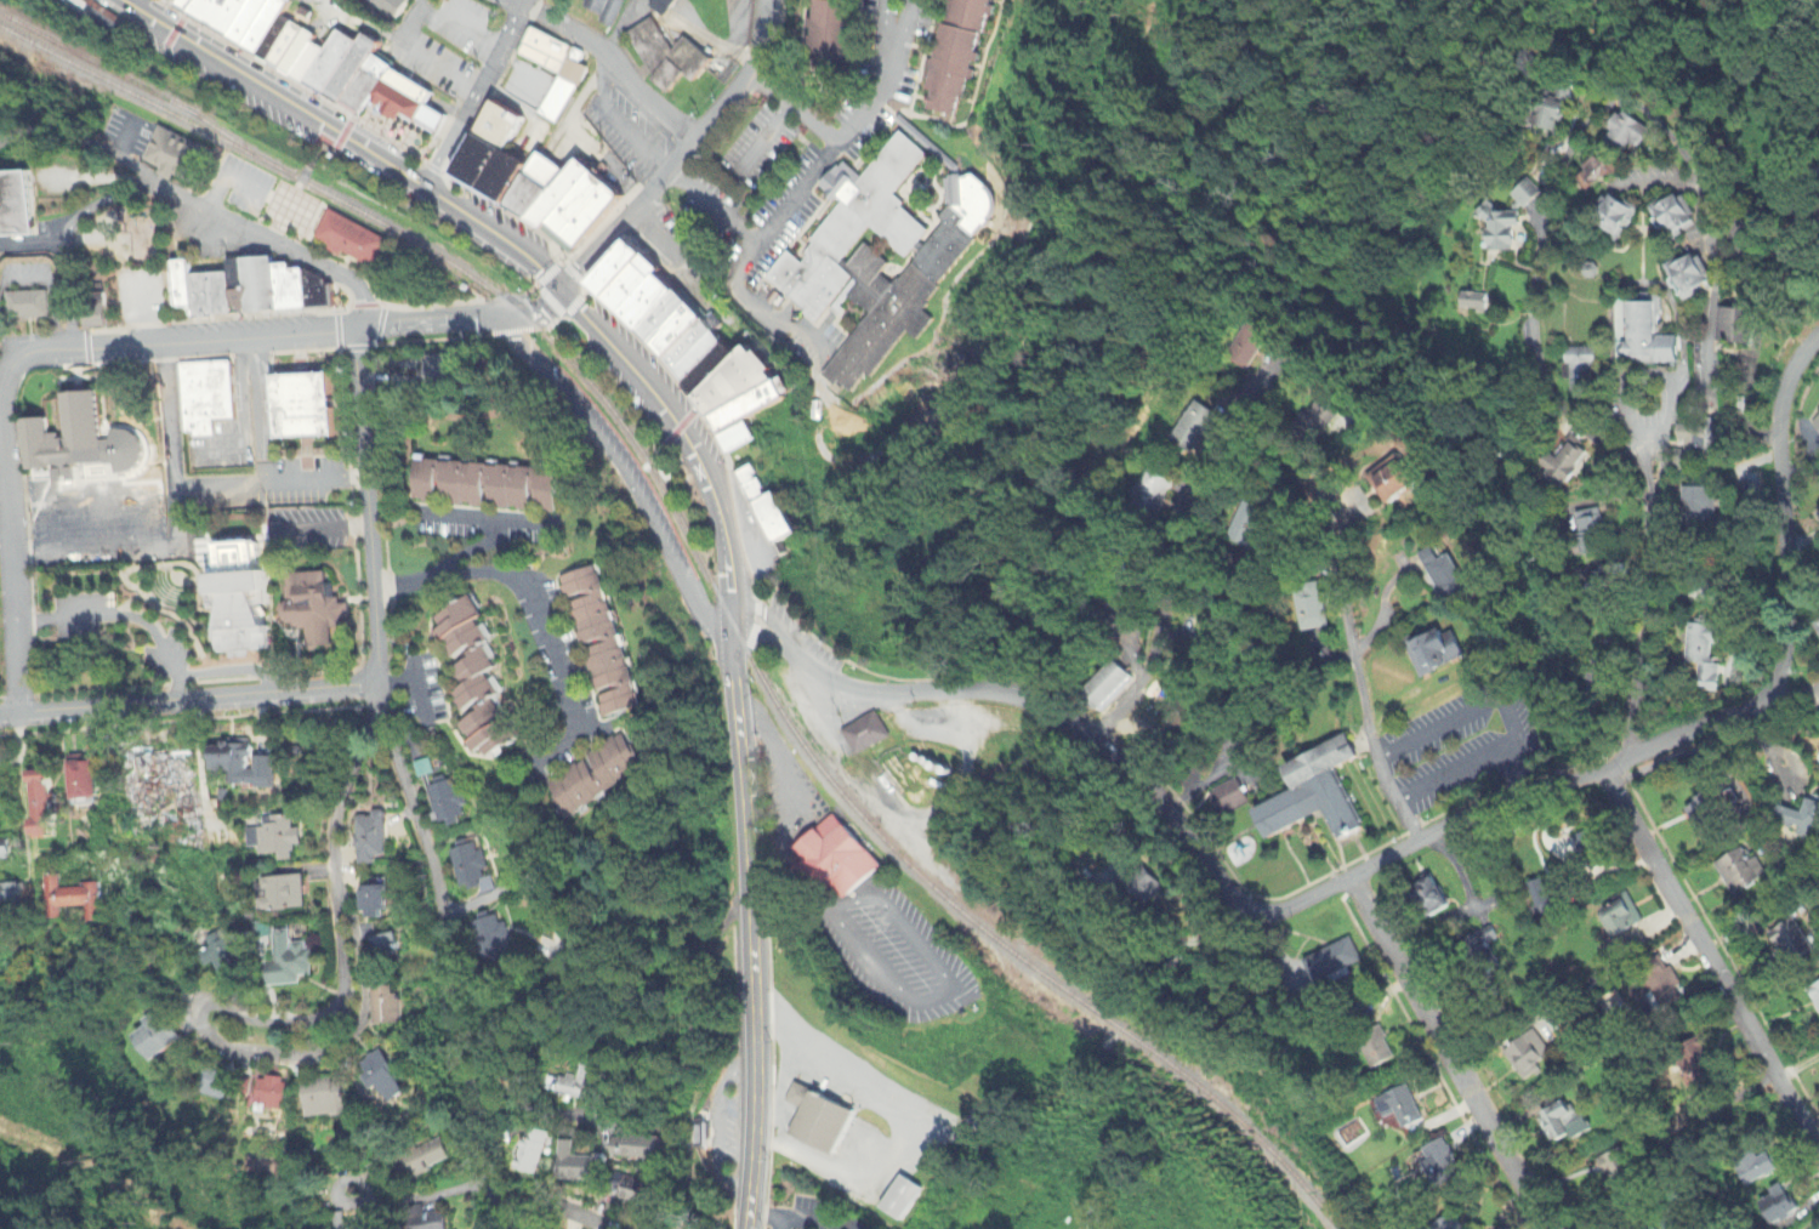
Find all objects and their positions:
road: (511, 2)
road: (518, 2)
building: (80, 4)
building: (187, 5)
building: (664, 6)
building: (223, 16)
building: (107, 17)
building: (255, 22)
road: (362, 24)
building: (269, 29)
road: (171, 32)
building: (279, 41)
road: (896, 41)
building: (289, 46)
building: (546, 51)
road: (422, 52)
building: (300, 56)
road: (610, 63)
building: (311, 68)
building: (334, 69)
building: (356, 75)
railway: (129, 80)
building: (368, 89)
road: (470, 98)
road: (877, 98)
building: (407, 104)
road: (612, 123)
road: (323, 127)
building: (499, 133)
road: (127, 142)
road: (341, 142)
road: (1574, 148)
road: (678, 152)
building: (176, 159)
building: (477, 173)
building: (501, 187)
road: (797, 192)
building: (534, 195)
road: (200, 201)
parking lot: (269, 203)
building: (558, 209)
building: (581, 223)
road: (69, 235)
road: (652, 237)
building: (351, 239)
road: (548, 273)
road: (574, 275)
building: (882, 275)
building: (613, 286)
traffic signals: (563, 291)
building: (184, 292)
building: (258, 295)
building: (237, 297)
building: (289, 297)
building: (211, 303)
road: (547, 303)
building: (625, 303)
road: (757, 307)
road: (573, 308)
building: (644, 319)
road: (342, 331)
building: (661, 334)
building: (1648, 337)
road: (112, 346)
road: (356, 347)
road: (87, 348)
building: (673, 349)
building: (688, 362)
building: (697, 372)
building: (712, 383)
building: (203, 394)
building: (739, 399)
road: (239, 408)
road: (256, 410)
road: (672, 422)
building: (746, 426)
building: (84, 434)
building: (735, 455)
road: (631, 474)
road: (268, 482)
building: (752, 501)
road: (368, 513)
road: (488, 518)
road: (172, 525)
building: (774, 536)
road: (1171, 541)
road: (470, 550)
railway: (707, 574)
road: (533, 601)
road: (1383, 609)
road: (127, 615)
road: (752, 621)
road: (1642, 621)
road: (732, 622)
road: (235, 670)
road: (396, 682)
road: (415, 685)
road: (1795, 695)
road: (1363, 698)
road: (188, 706)
road: (1470, 715)
road: (198, 772)
road: (1455, 778)
road: (1519, 778)
road: (785, 809)
road: (7, 836)
building: (840, 855)
road: (1387, 857)
road: (748, 945)
road: (1713, 957)
road: (443, 960)
road: (951, 985)
road: (233, 1012)
road: (1444, 1052)
road: (535, 1109)
road: (714, 1125)
park: (87, 1151)
road: (382, 1196)
road: (591, 1221)

